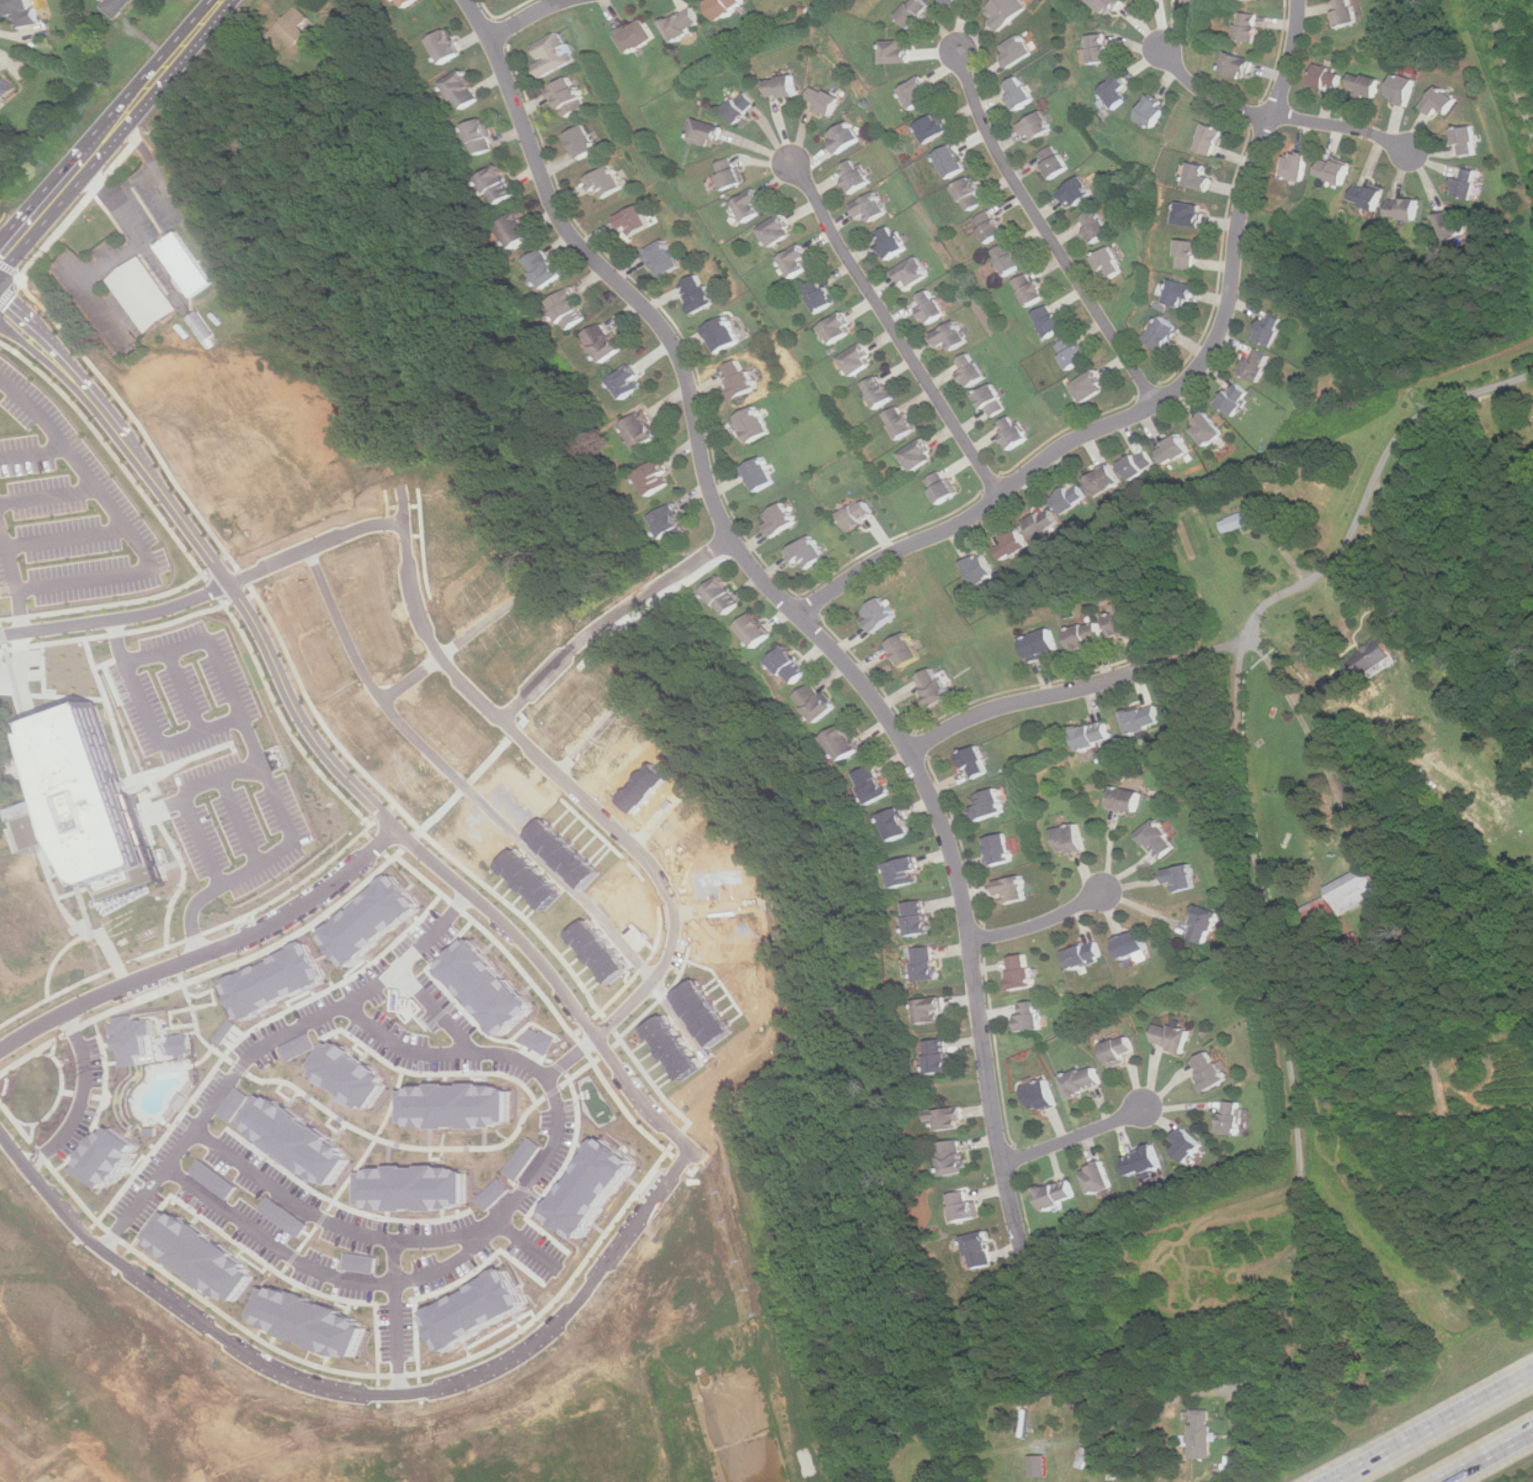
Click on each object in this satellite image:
building: (1194, 0)
building: (958, 1)
building: (406, 2)
building: (1108, 5)
building: (117, 7)
building: (724, 7)
building: (22, 11)
building: (1006, 11)
building: (915, 12)
building: (1346, 12)
road: (528, 17)
building: (685, 23)
building: (294, 26)
building: (1250, 27)
building: (639, 35)
building: (446, 45)
building: (1100, 47)
building: (1019, 49)
building: (896, 51)
building: (552, 55)
building: (1239, 64)
road: (1510, 64)
building: (1329, 77)
building: (6, 83)
building: (1365, 85)
building: (782, 86)
building: (1403, 89)
building: (463, 90)
building: (1117, 90)
building: (917, 91)
building: (1021, 92)
building: (569, 97)
building: (825, 100)
building: (1442, 101)
building: (740, 107)
building: (1154, 111)
road: (1277, 117)
building: (1037, 126)
road: (105, 127)
building: (934, 127)
building: (707, 132)
building: (481, 136)
building: (846, 136)
building: (1212, 139)
building: (1467, 140)
building: (585, 141)
building: (953, 160)
building: (1055, 161)
building: (1297, 166)
building: (1335, 169)
building: (731, 172)
building: (855, 175)
building: (1199, 176)
building: (607, 180)
building: (1468, 182)
building: (498, 184)
building: (1078, 192)
building: (971, 193)
building: (1369, 195)
building: (751, 204)
building: (872, 206)
building: (1405, 208)
building: (1189, 213)
building: (634, 220)
building: (1453, 224)
building: (991, 225)
building: (1097, 225)
building: (517, 229)
building: (778, 230)
road: (1047, 231)
building: (893, 241)
building: (1188, 254)
building: (665, 256)
building: (1011, 257)
building: (797, 259)
building: (1111, 262)
building: (184, 264)
building: (545, 267)
building: (913, 271)
building: (1032, 288)
building: (699, 292)
building: (1183, 292)
building: (144, 294)
building: (821, 294)
building: (931, 306)
building: (570, 308)
building: (1052, 319)
road: (892, 327)
building: (203, 328)
building: (838, 328)
building: (1272, 329)
building: (1164, 333)
building: (723, 334)
building: (951, 335)
building: (604, 341)
building: (1073, 352)
building: (859, 359)
building: (1256, 364)
building: (972, 369)
building: (740, 378)
building: (628, 380)
building: (1091, 386)
building: (880, 391)
road: (1166, 395)
building: (1236, 398)
building: (993, 400)
building: (902, 421)
building: (754, 424)
building: (1208, 428)
building: (643, 430)
building: (1014, 432)
building: (1174, 448)
road: (32, 454)
building: (920, 455)
building: (1139, 463)
building: (761, 473)
building: (656, 477)
building: (1105, 480)
building: (943, 485)
road: (46, 497)
building: (1071, 499)
building: (859, 514)
building: (781, 519)
building: (1240, 520)
building: (1044, 523)
road: (115, 524)
building: (673, 524)
road: (61, 538)
building: (1013, 544)
road: (1387, 549)
building: (808, 553)
building: (981, 568)
road: (12, 586)
road: (205, 592)
building: (724, 595)
road: (791, 605)
building: (879, 614)
road: (610, 619)
building: (1121, 621)
building: (756, 629)
building: (1087, 636)
road: (117, 643)
building: (1042, 644)
road: (449, 649)
building: (906, 650)
road: (1198, 651)
building: (1373, 658)
building: (790, 665)
building: (1328, 684)
building: (934, 687)
road: (183, 693)
road: (1027, 697)
road: (234, 701)
building: (817, 702)
building: (1144, 719)
building: (1094, 735)
road: (587, 739)
road: (1309, 739)
building: (844, 743)
road: (315, 746)
building: (975, 763)
building: (875, 784)
building: (1356, 789)
road: (574, 790)
building: (1127, 798)
road: (185, 803)
building: (988, 803)
road: (1248, 803)
building: (88, 805)
road: (489, 816)
road: (658, 816)
road: (239, 823)
building: (898, 823)
building: (1071, 839)
building: (1160, 839)
building: (1001, 849)
building: (560, 853)
building: (905, 872)
building: (1181, 877)
building: (527, 879)
building: (1012, 889)
building: (1354, 890)
road: (716, 909)
building: (919, 918)
building: (367, 920)
road: (1038, 921)
building: (1205, 924)
building: (1133, 944)
building: (595, 951)
road: (203, 952)
building: (1085, 957)
building: (927, 963)
building: (1022, 972)
building: (270, 980)
building: (483, 986)
road: (431, 1009)
building: (933, 1010)
building: (700, 1013)
building: (1029, 1018)
building: (218, 1031)
building: (1172, 1037)
building: (127, 1038)
building: (535, 1040)
building: (173, 1044)
road: (260, 1046)
building: (291, 1046)
building: (1119, 1051)
building: (940, 1056)
building: (1210, 1071)
building: (344, 1075)
building: (1084, 1082)
building: (1041, 1095)
road: (82, 1096)
building: (227, 1104)
building: (453, 1105)
building: (949, 1118)
building: (1232, 1118)
road: (1073, 1136)
building: (292, 1139)
building: (1188, 1145)
building: (108, 1157)
building: (954, 1157)
building: (522, 1158)
building: (1144, 1161)
building: (1098, 1177)
building: (209, 1179)
building: (409, 1187)
building: (589, 1188)
building: (492, 1194)
building: (1057, 1194)
road: (516, 1203)
building: (966, 1207)
building: (278, 1216)
building: (981, 1250)
building: (199, 1256)
building: (355, 1262)
road: (334, 1278)
building: (475, 1309)
road: (393, 1319)
building: (307, 1321)
road: (1247, 1383)
road: (345, 1396)
road: (1434, 1428)
building: (1201, 1434)
road: (1486, 1456)
building: (1039, 1466)

